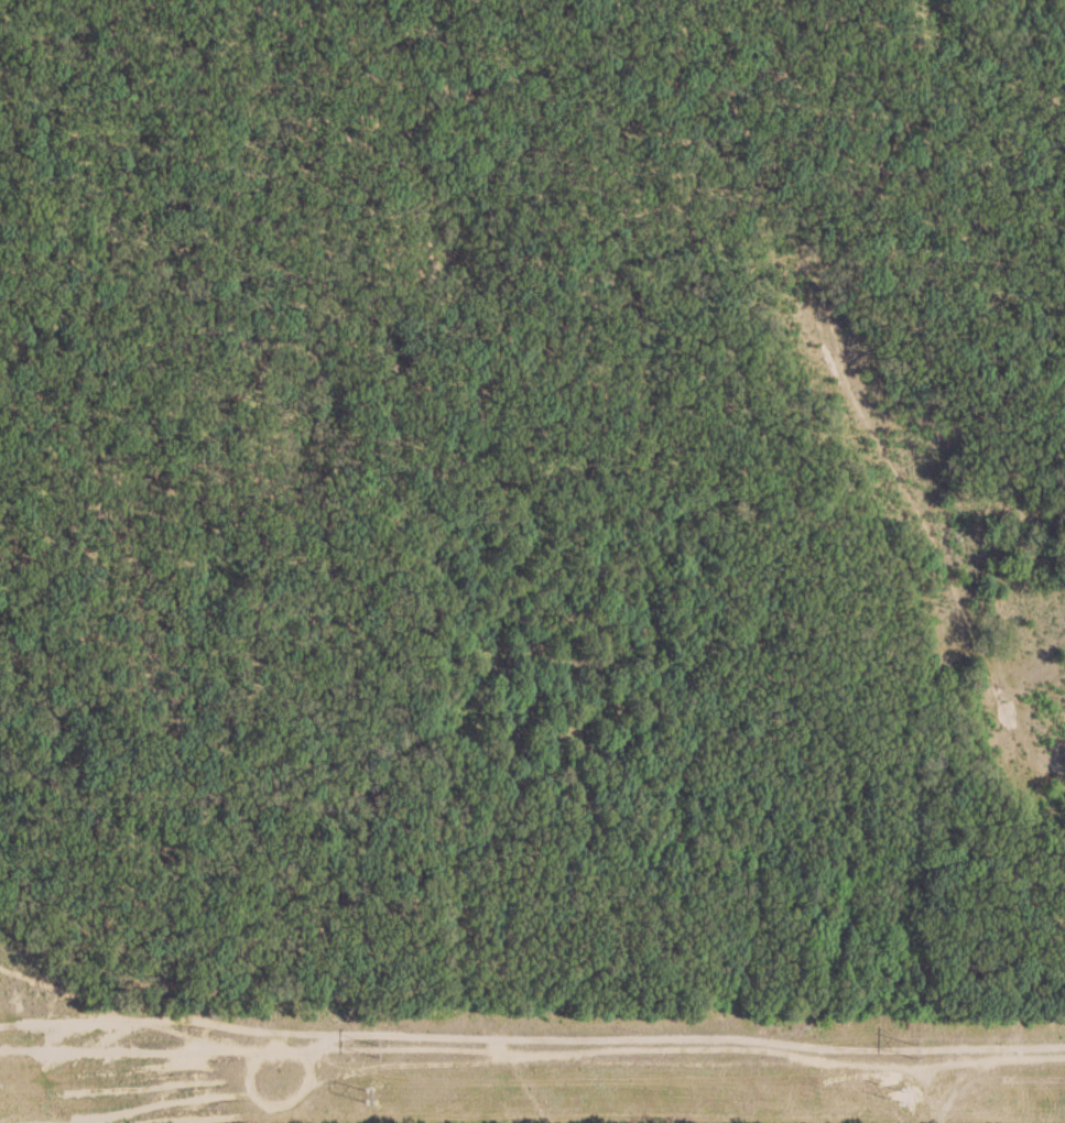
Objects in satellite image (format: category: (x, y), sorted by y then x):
power tower: (910, 1047)
power tower: (372, 1049)
power tower: (372, 1097)
power tower: (911, 1097)

